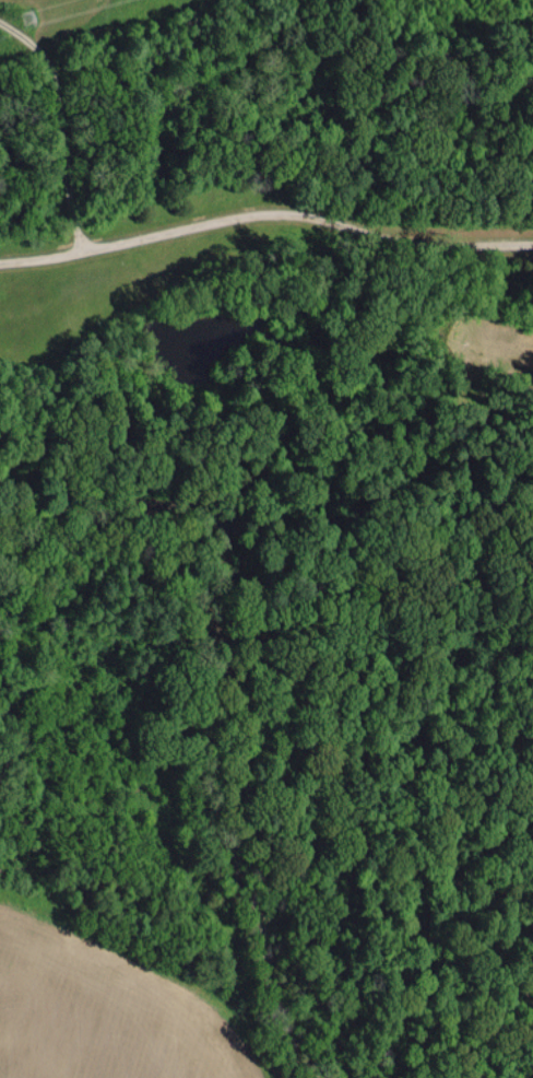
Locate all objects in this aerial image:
road: (67, 121)
road: (265, 212)

